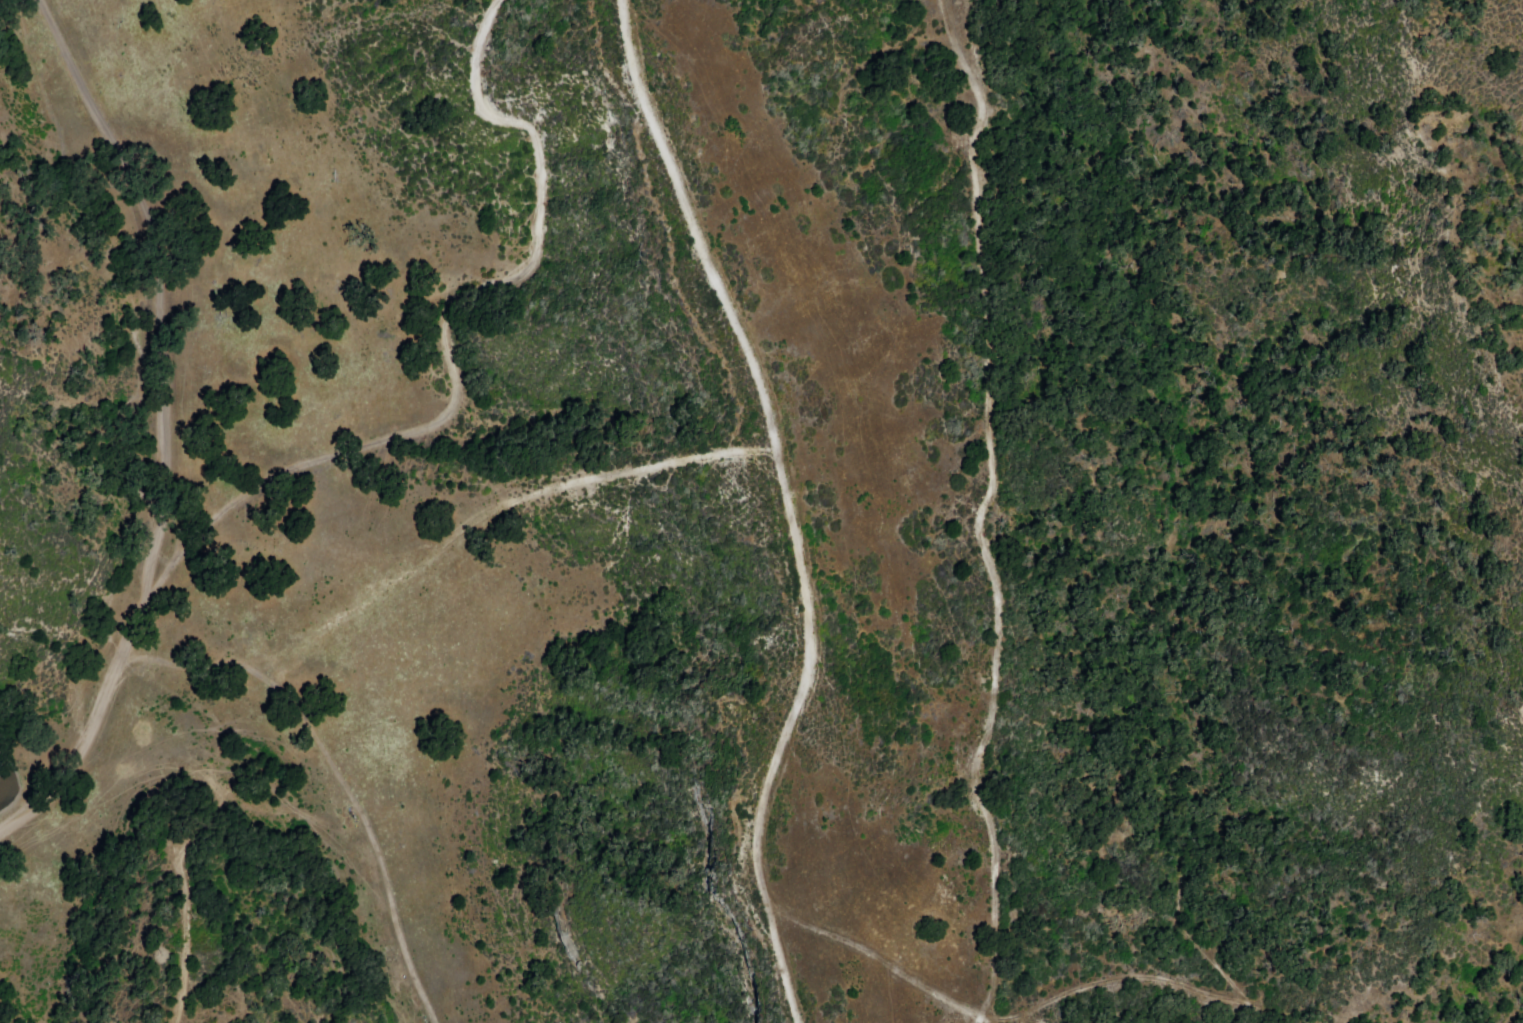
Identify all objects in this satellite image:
road: (149, 288)
road: (380, 435)
road: (774, 720)

